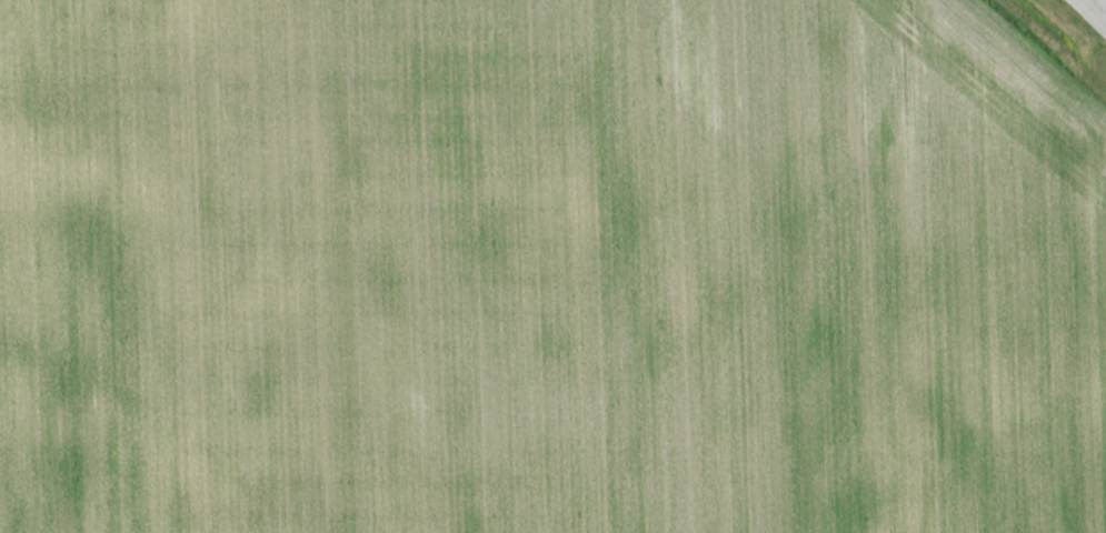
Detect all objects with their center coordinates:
road: (1090, 12)
railway: (1049, 48)
crop: (544, 270)

